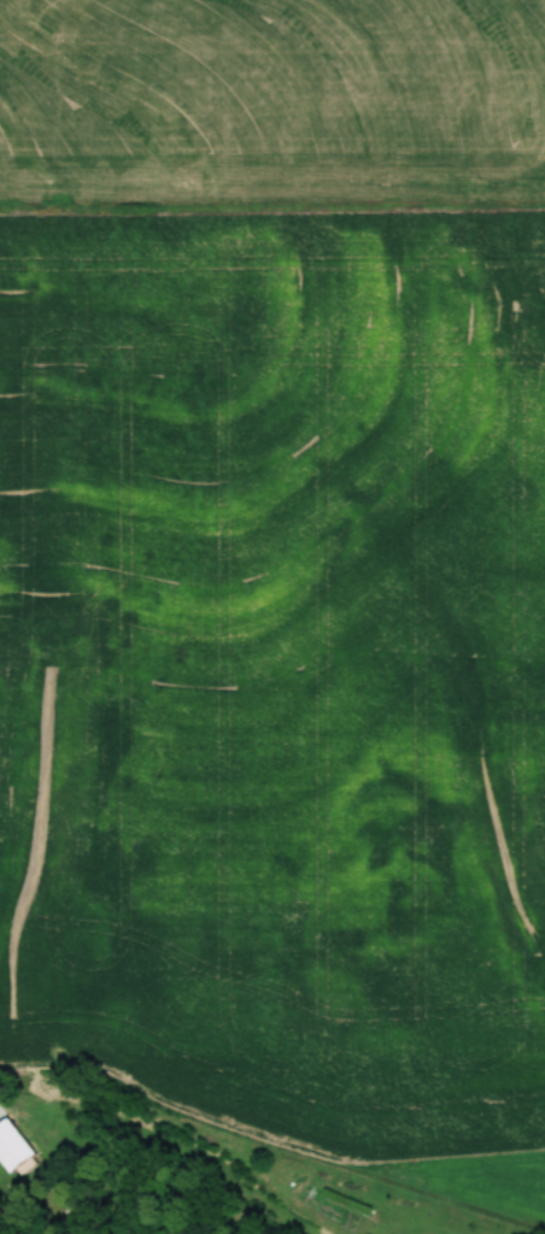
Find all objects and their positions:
building: (7, 1154)

